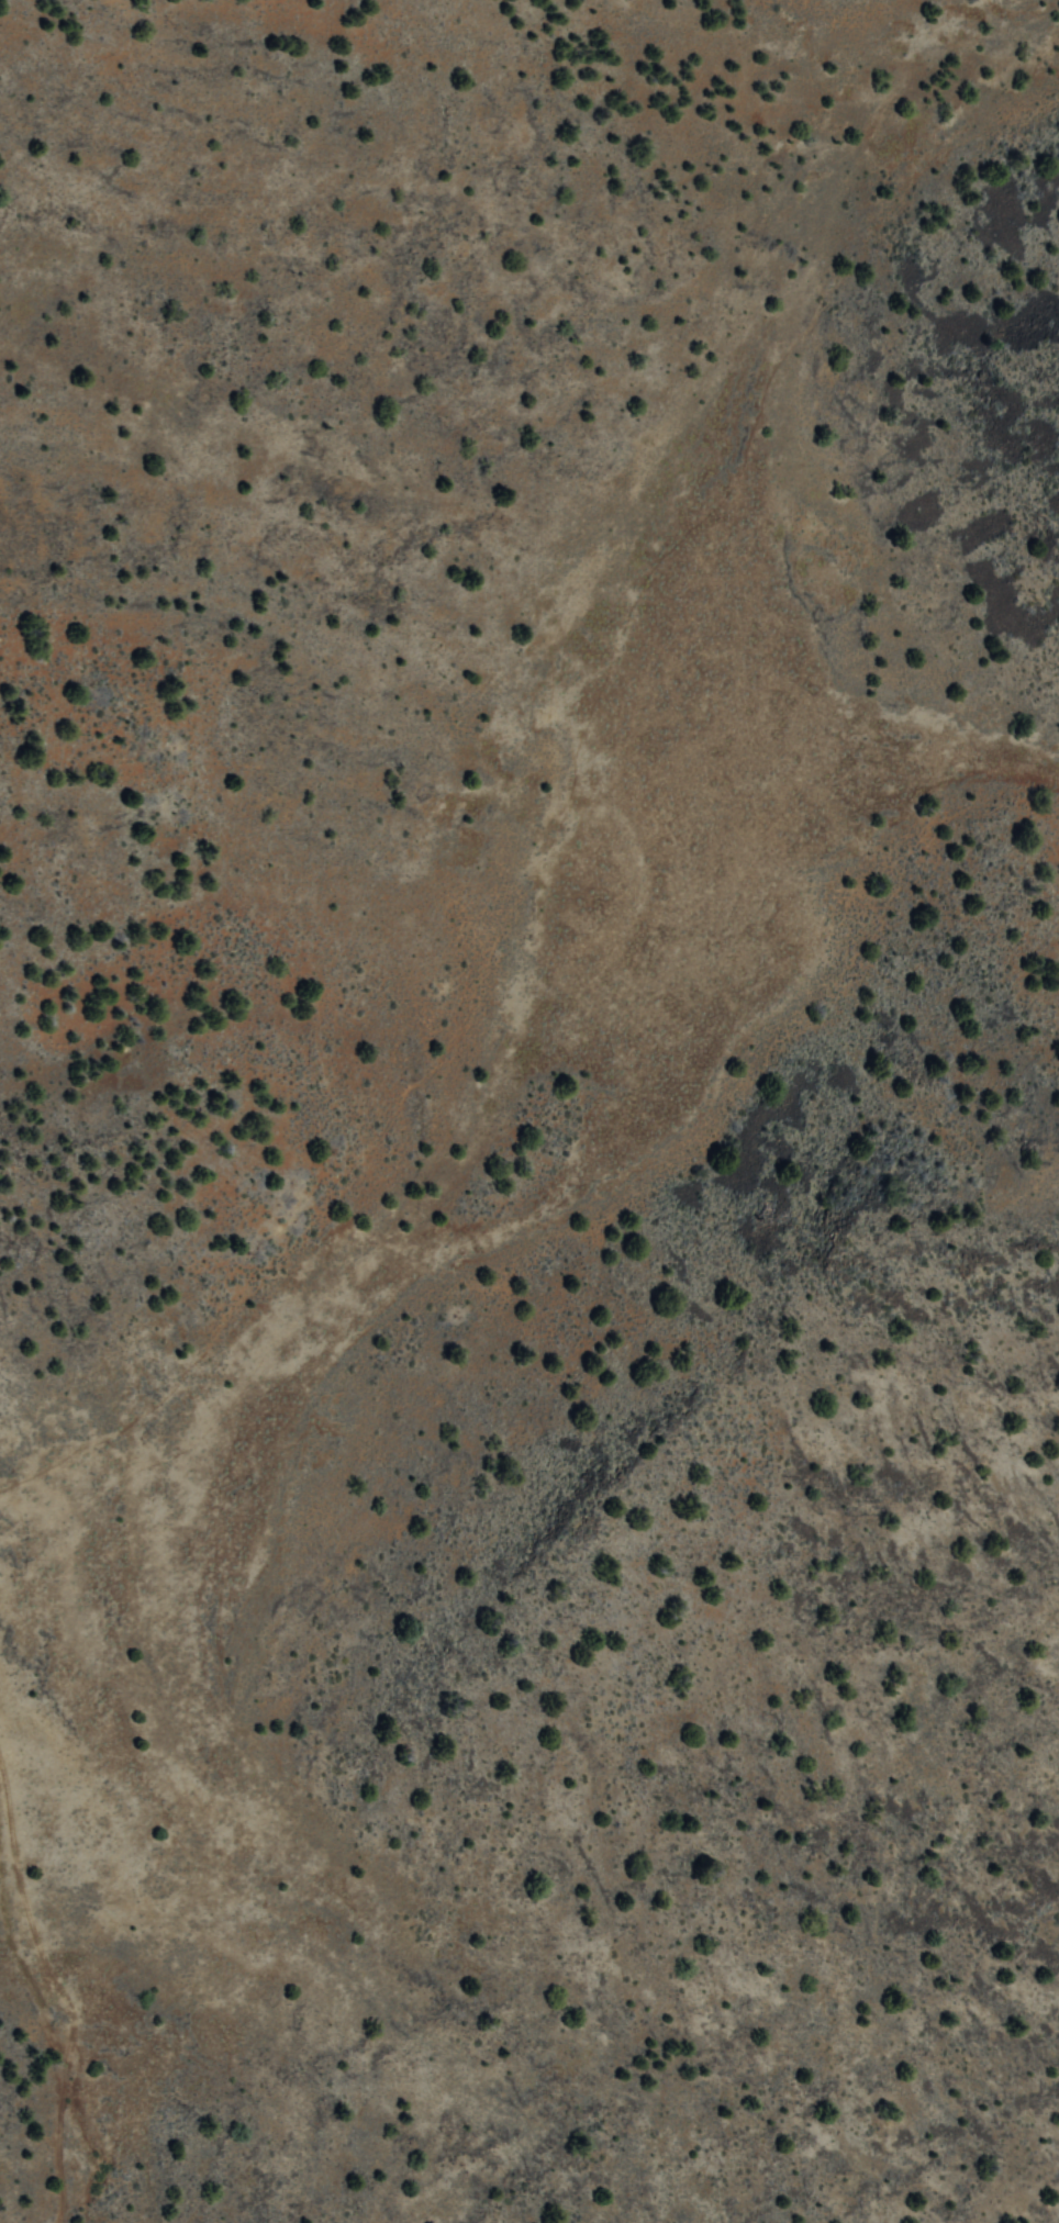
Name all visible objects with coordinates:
road: (44, 1996)

